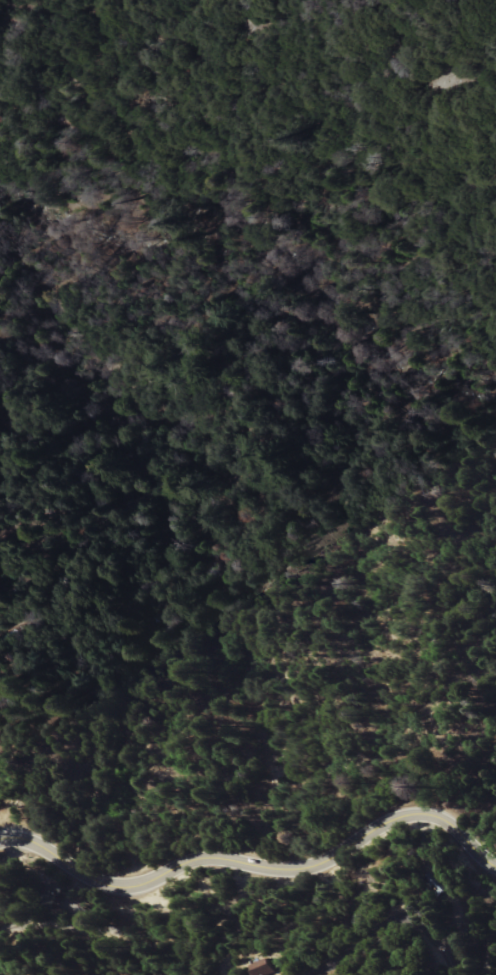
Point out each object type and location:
road: (14, 840)
road: (15, 850)
road: (268, 867)
road: (465, 903)
building: (3, 905)
road: (60, 923)
road: (390, 926)
building: (267, 968)

